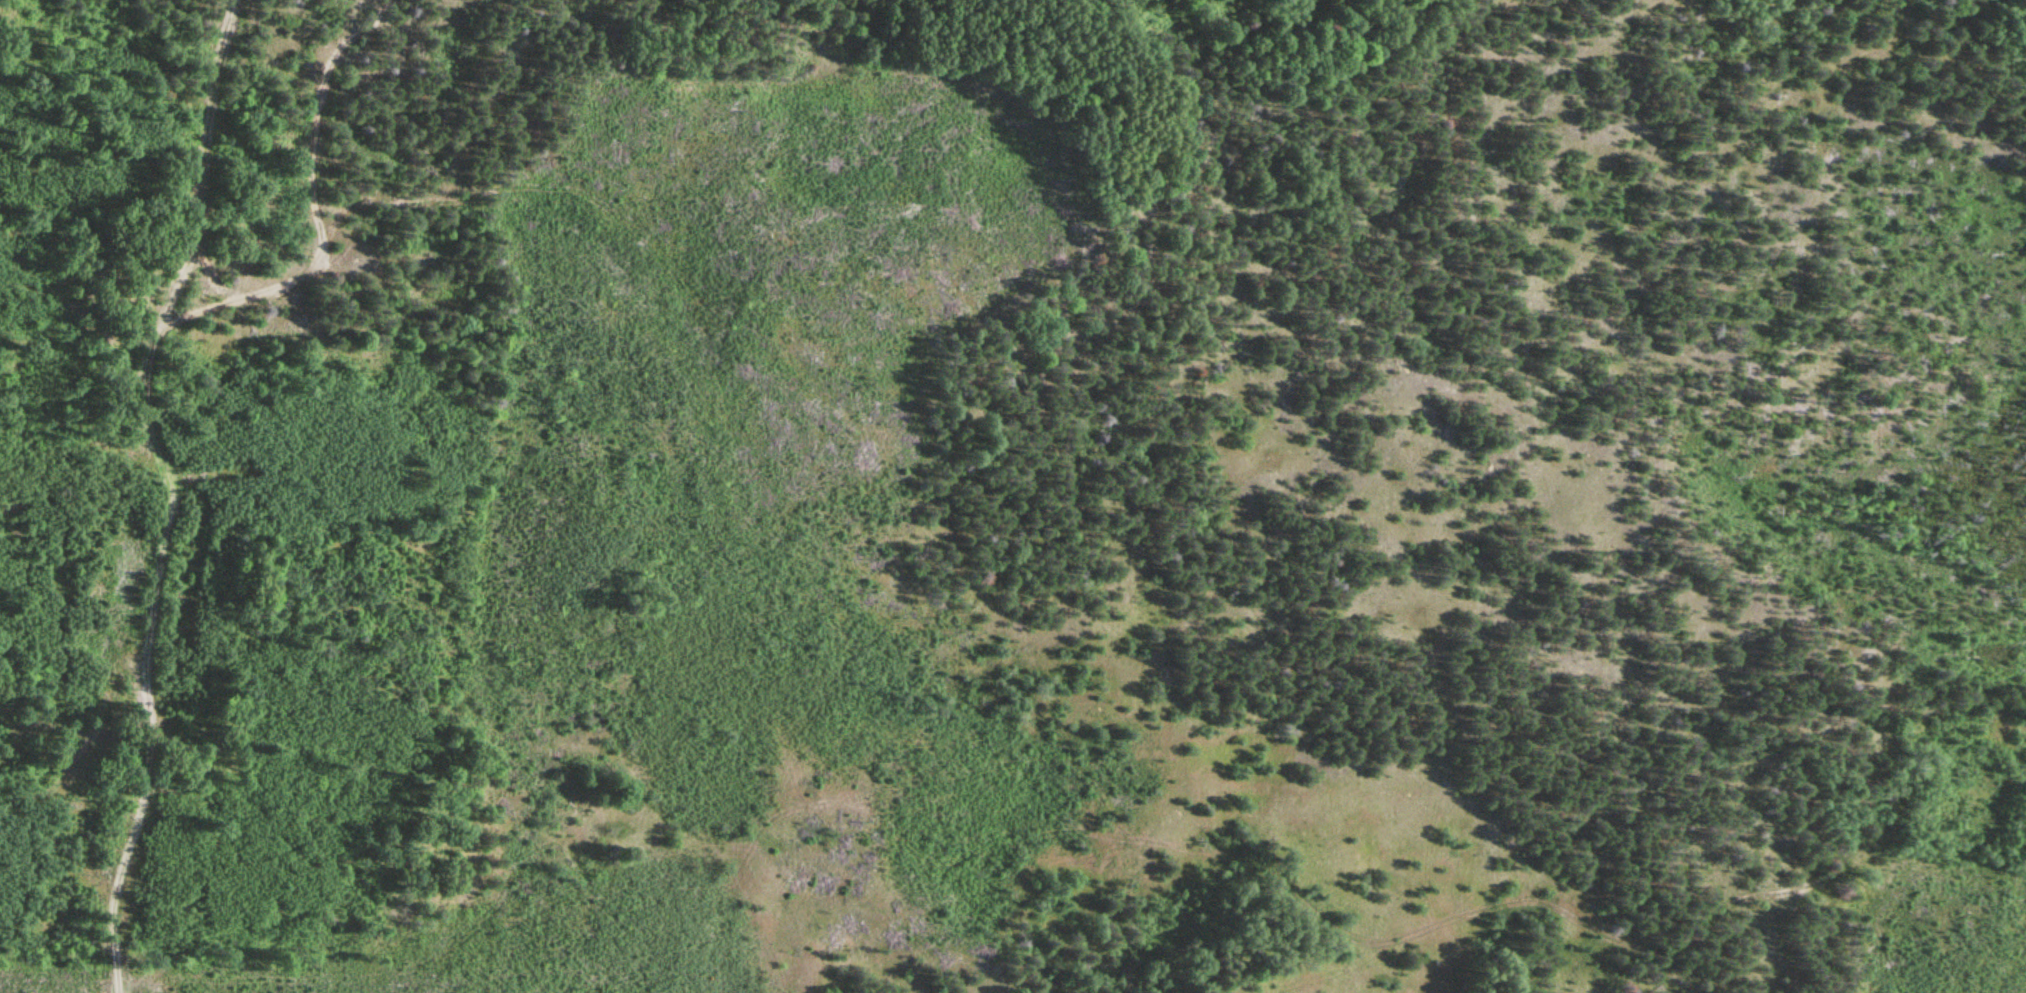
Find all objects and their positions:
road: (131, 442)

